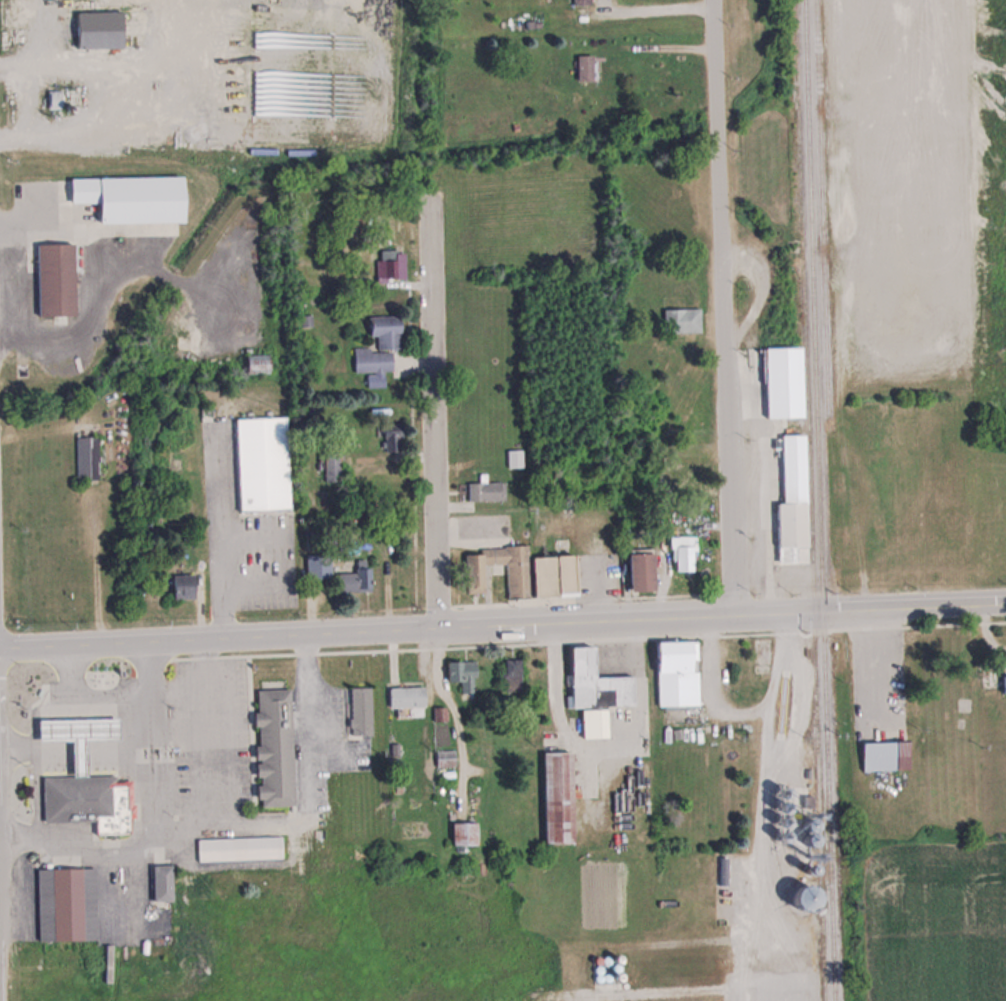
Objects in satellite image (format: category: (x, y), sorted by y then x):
building: (582, 1)
building: (100, 29)
building: (585, 67)
building: (133, 197)
railway: (822, 208)
building: (391, 264)
building: (57, 278)
road: (724, 308)
building: (683, 320)
building: (387, 330)
building: (372, 360)
building: (784, 382)
road: (432, 409)
building: (394, 437)
building: (88, 456)
building: (515, 457)
building: (262, 463)
building: (333, 466)
building: (683, 475)
building: (485, 489)
railway: (812, 500)
railway: (820, 500)
building: (793, 501)
building: (683, 552)
railway: (801, 560)
building: (317, 566)
building: (642, 571)
building: (554, 575)
building: (518, 577)
building: (355, 579)
building: (183, 586)
road: (503, 624)
building: (461, 673)
building: (677, 673)
building: (512, 674)
building: (1004, 680)
building: (596, 682)
building: (407, 696)
building: (358, 711)
building: (594, 723)
building: (78, 734)
building: (274, 747)
building: (885, 755)
building: (445, 758)
building: (77, 795)
building: (558, 797)
building: (118, 808)
building: (464, 833)
building: (239, 848)
building: (162, 883)
building: (807, 898)
building: (67, 904)

